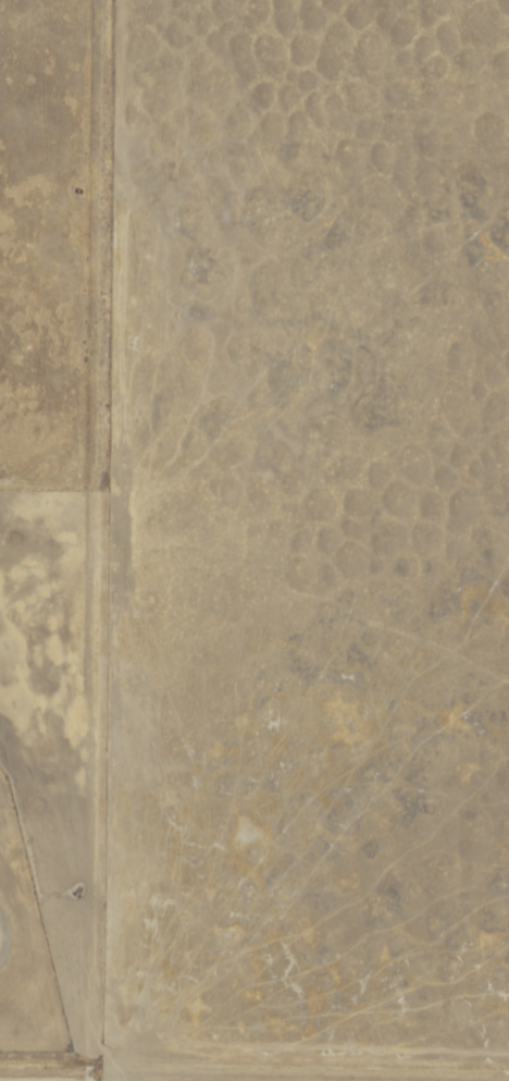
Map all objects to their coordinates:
airport: (24, 950)

